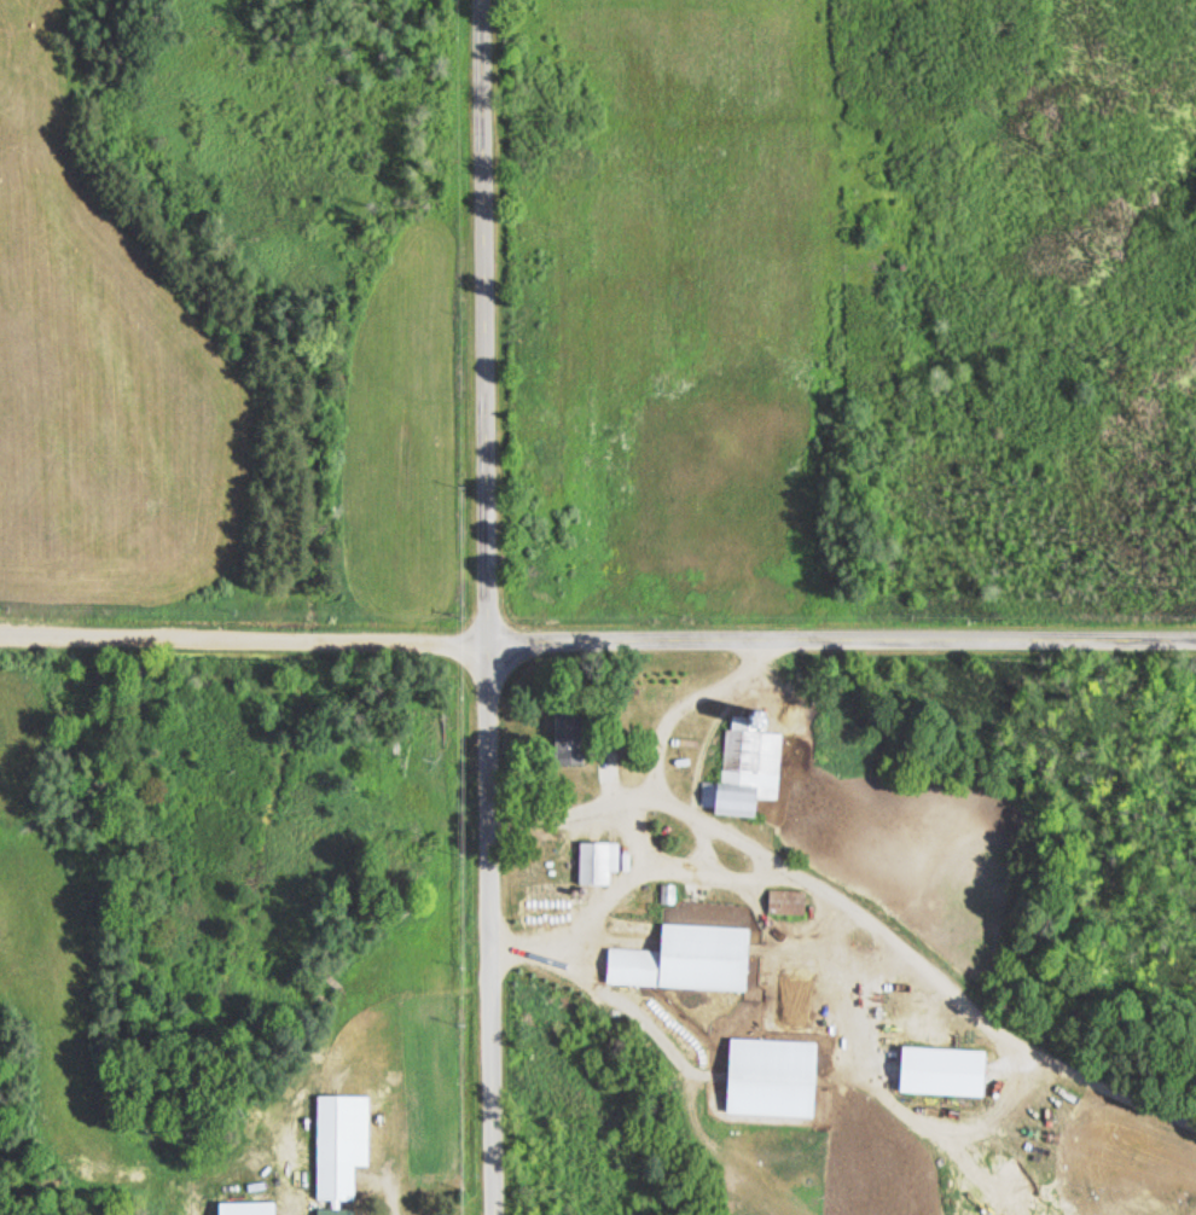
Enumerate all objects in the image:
road: (488, 606)
road: (597, 640)
building: (748, 774)
building: (604, 862)
building: (693, 960)
building: (779, 1079)
road: (670, 1086)
building: (344, 1144)
road: (1037, 1202)
building: (254, 1208)
building: (337, 1213)

